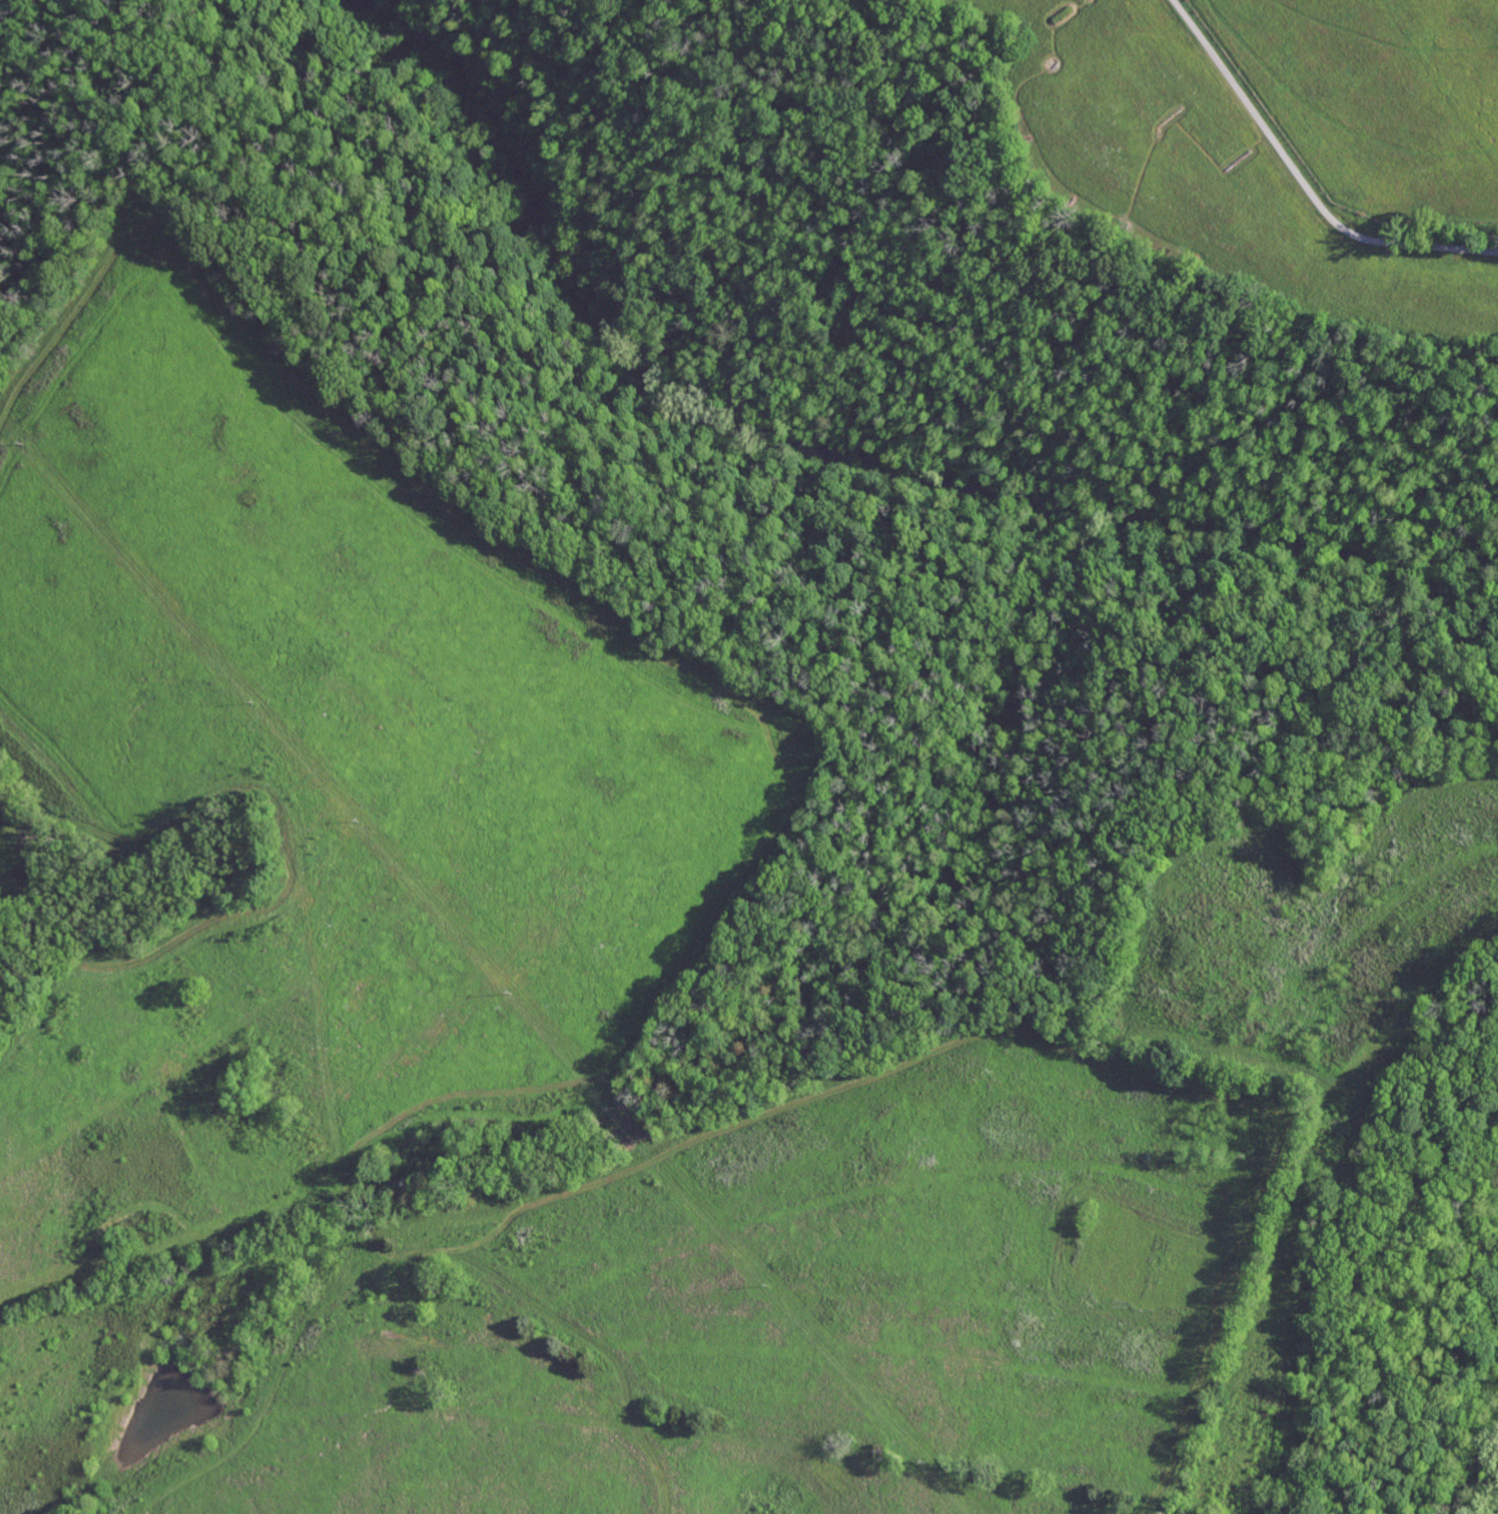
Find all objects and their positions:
road: (1305, 177)
road: (887, 772)
road: (293, 834)
road: (1270, 855)
road: (1410, 1000)
road: (637, 1021)
road: (1390, 1276)
road: (1241, 1294)
road: (1470, 1456)

